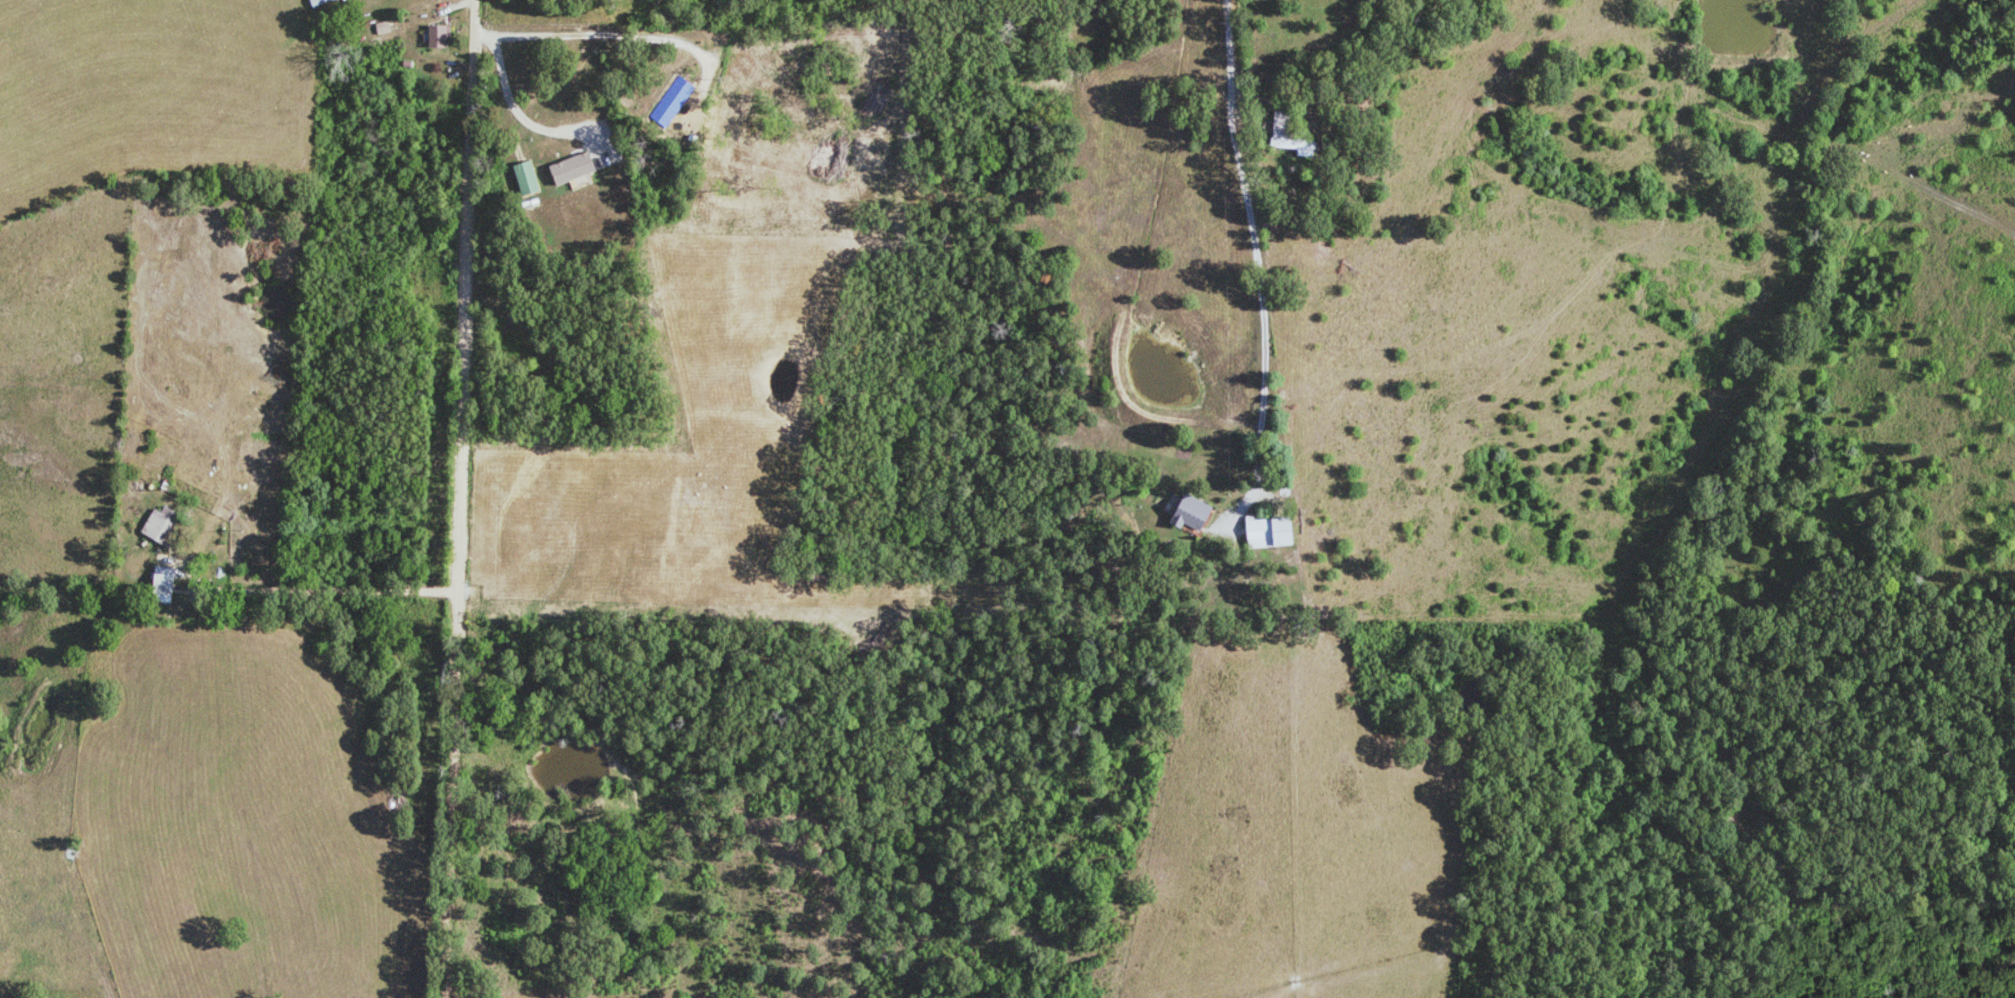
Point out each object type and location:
building: (317, 2)
building: (382, 28)
building: (437, 36)
building: (671, 102)
building: (569, 168)
building: (525, 178)
road: (1251, 244)
road: (459, 499)
building: (1188, 513)
building: (158, 524)
building: (1266, 532)
road: (302, 587)

